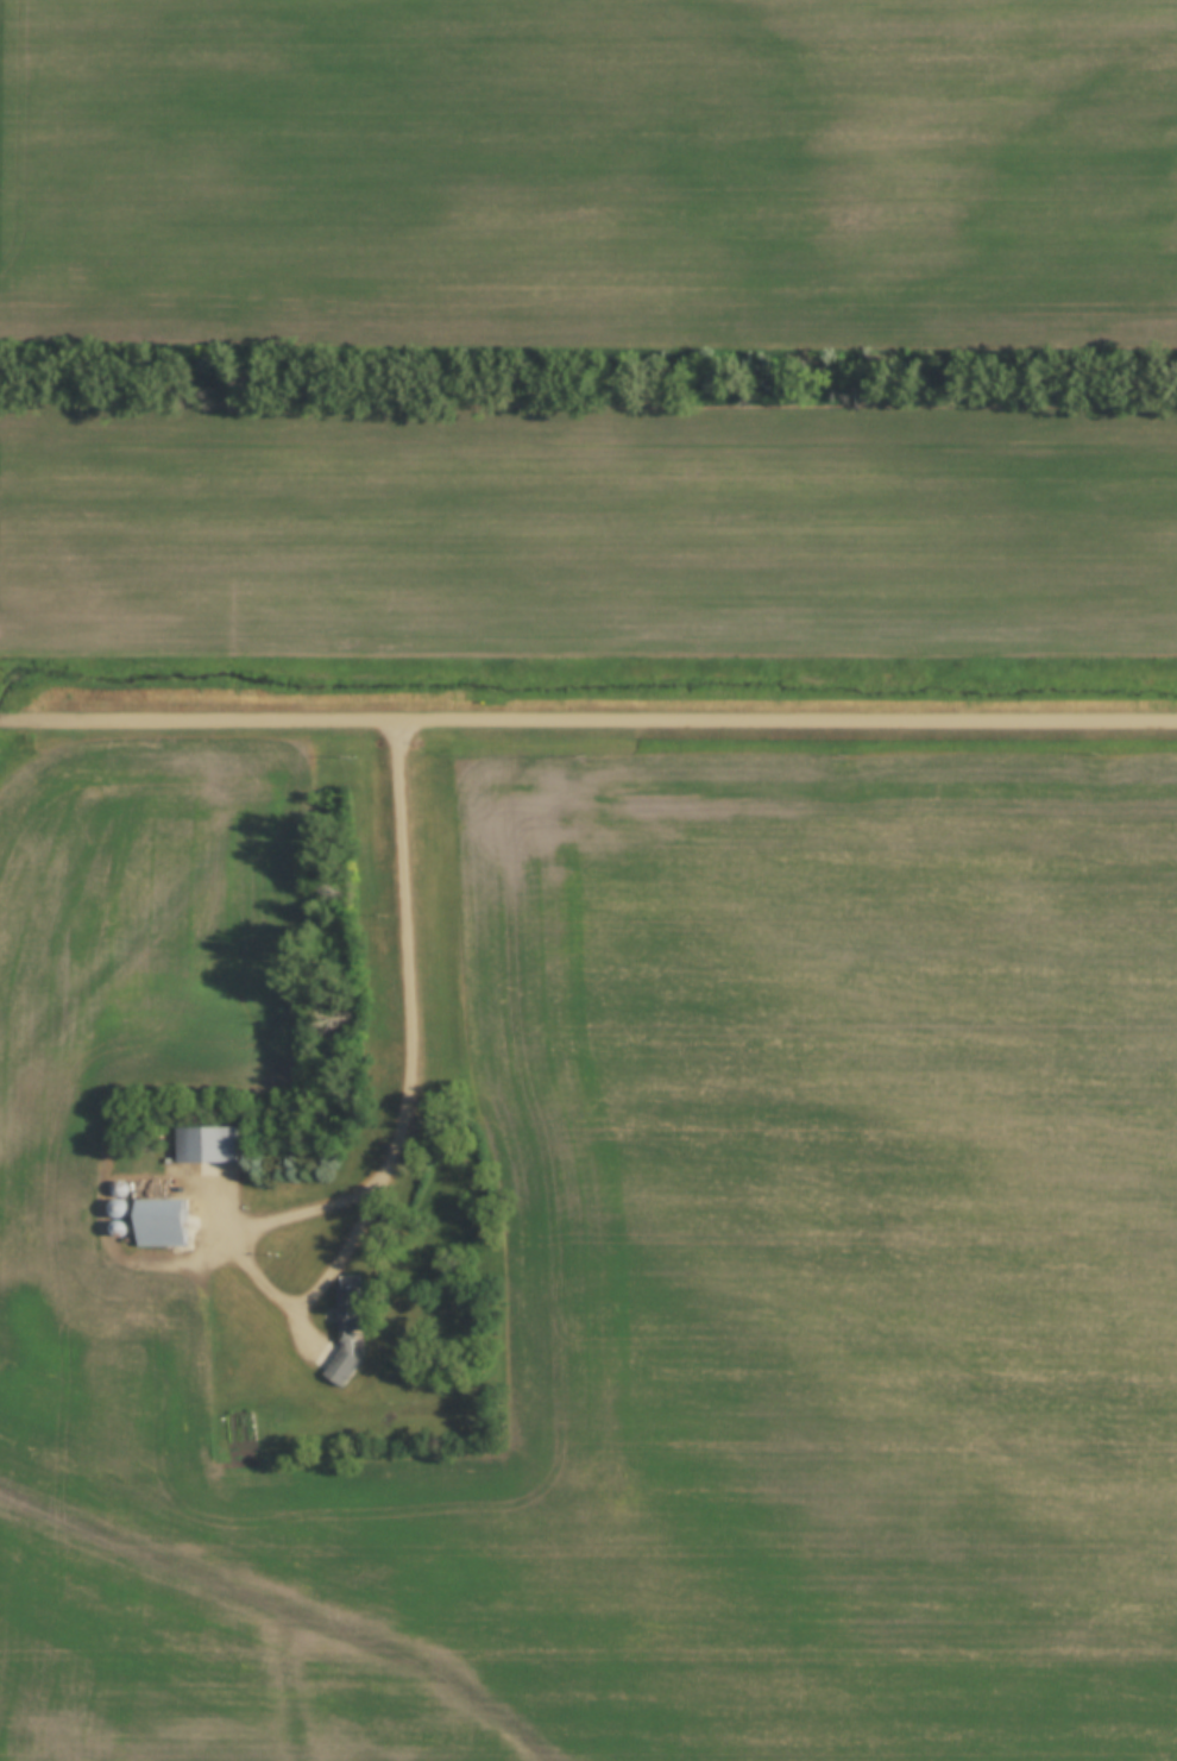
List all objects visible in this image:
road: (587, 719)
building: (207, 1146)
road: (397, 1146)
building: (164, 1226)
building: (347, 1331)
building: (239, 1429)

